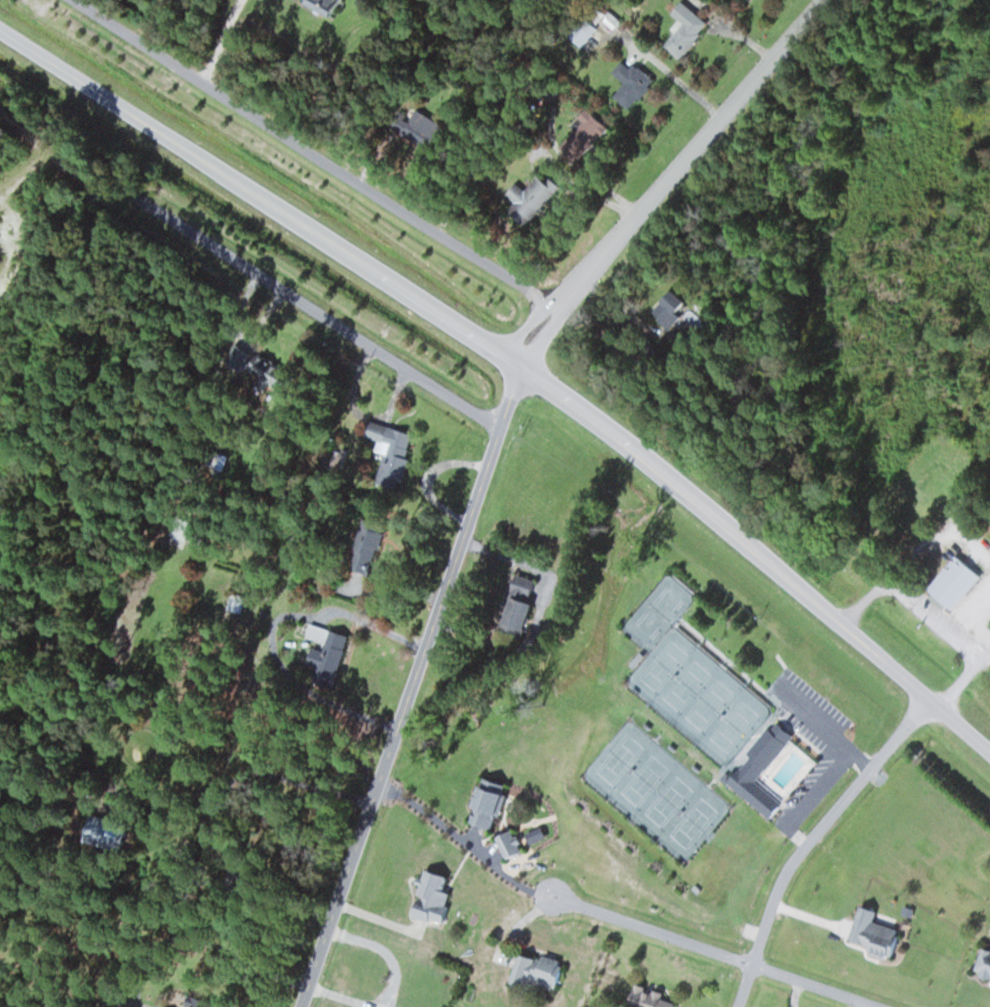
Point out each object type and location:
building: (319, 5)
building: (682, 29)
building: (579, 32)
building: (628, 83)
building: (408, 124)
building: (586, 126)
road: (312, 152)
building: (526, 199)
building: (664, 308)
road: (315, 311)
road: (513, 364)
building: (263, 369)
building: (387, 452)
building: (215, 459)
road: (487, 461)
building: (363, 547)
building: (950, 583)
building: (234, 604)
building: (514, 606)
building: (322, 654)
building: (756, 769)
building: (485, 803)
building: (94, 829)
building: (505, 841)
road: (811, 841)
building: (427, 896)
road: (648, 927)
building: (869, 932)
building: (982, 962)
building: (535, 971)
road: (811, 986)
building: (644, 997)

